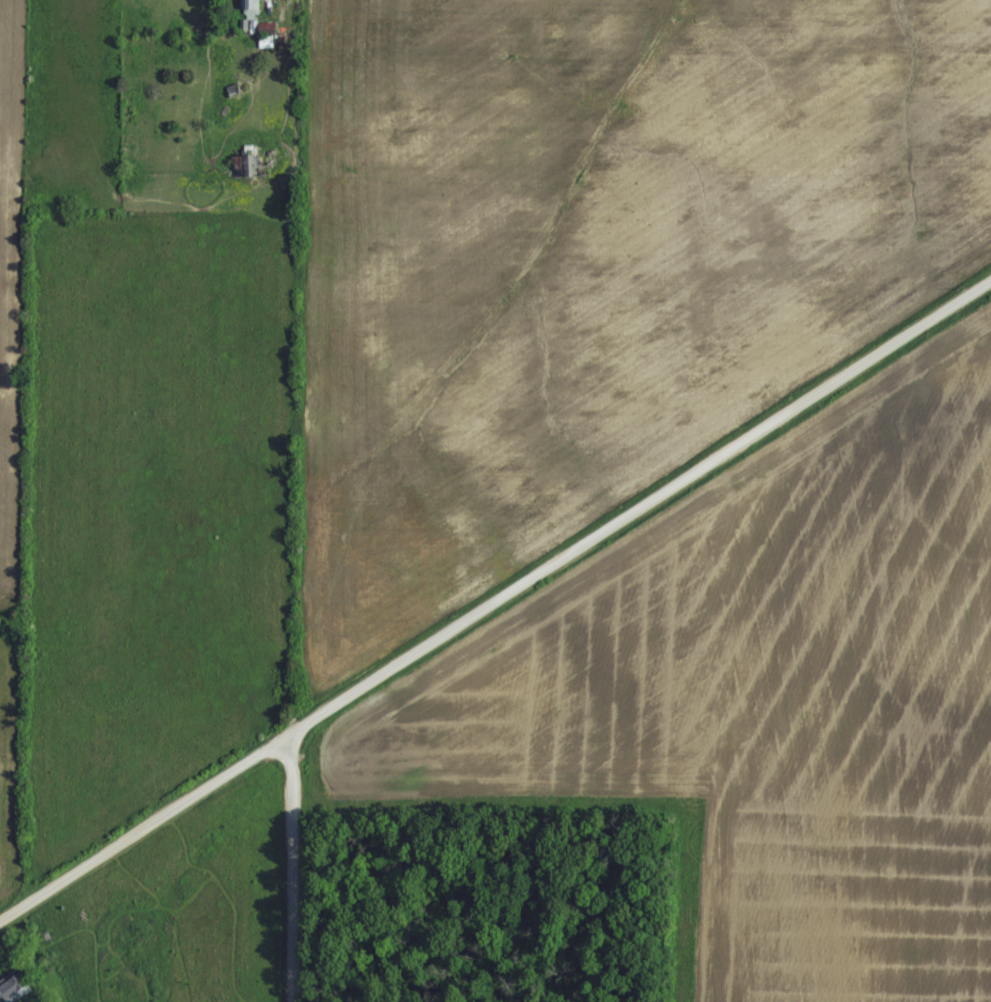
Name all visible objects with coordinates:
building: (250, 8)
building: (266, 32)
building: (246, 162)
road: (498, 592)
road: (286, 866)

